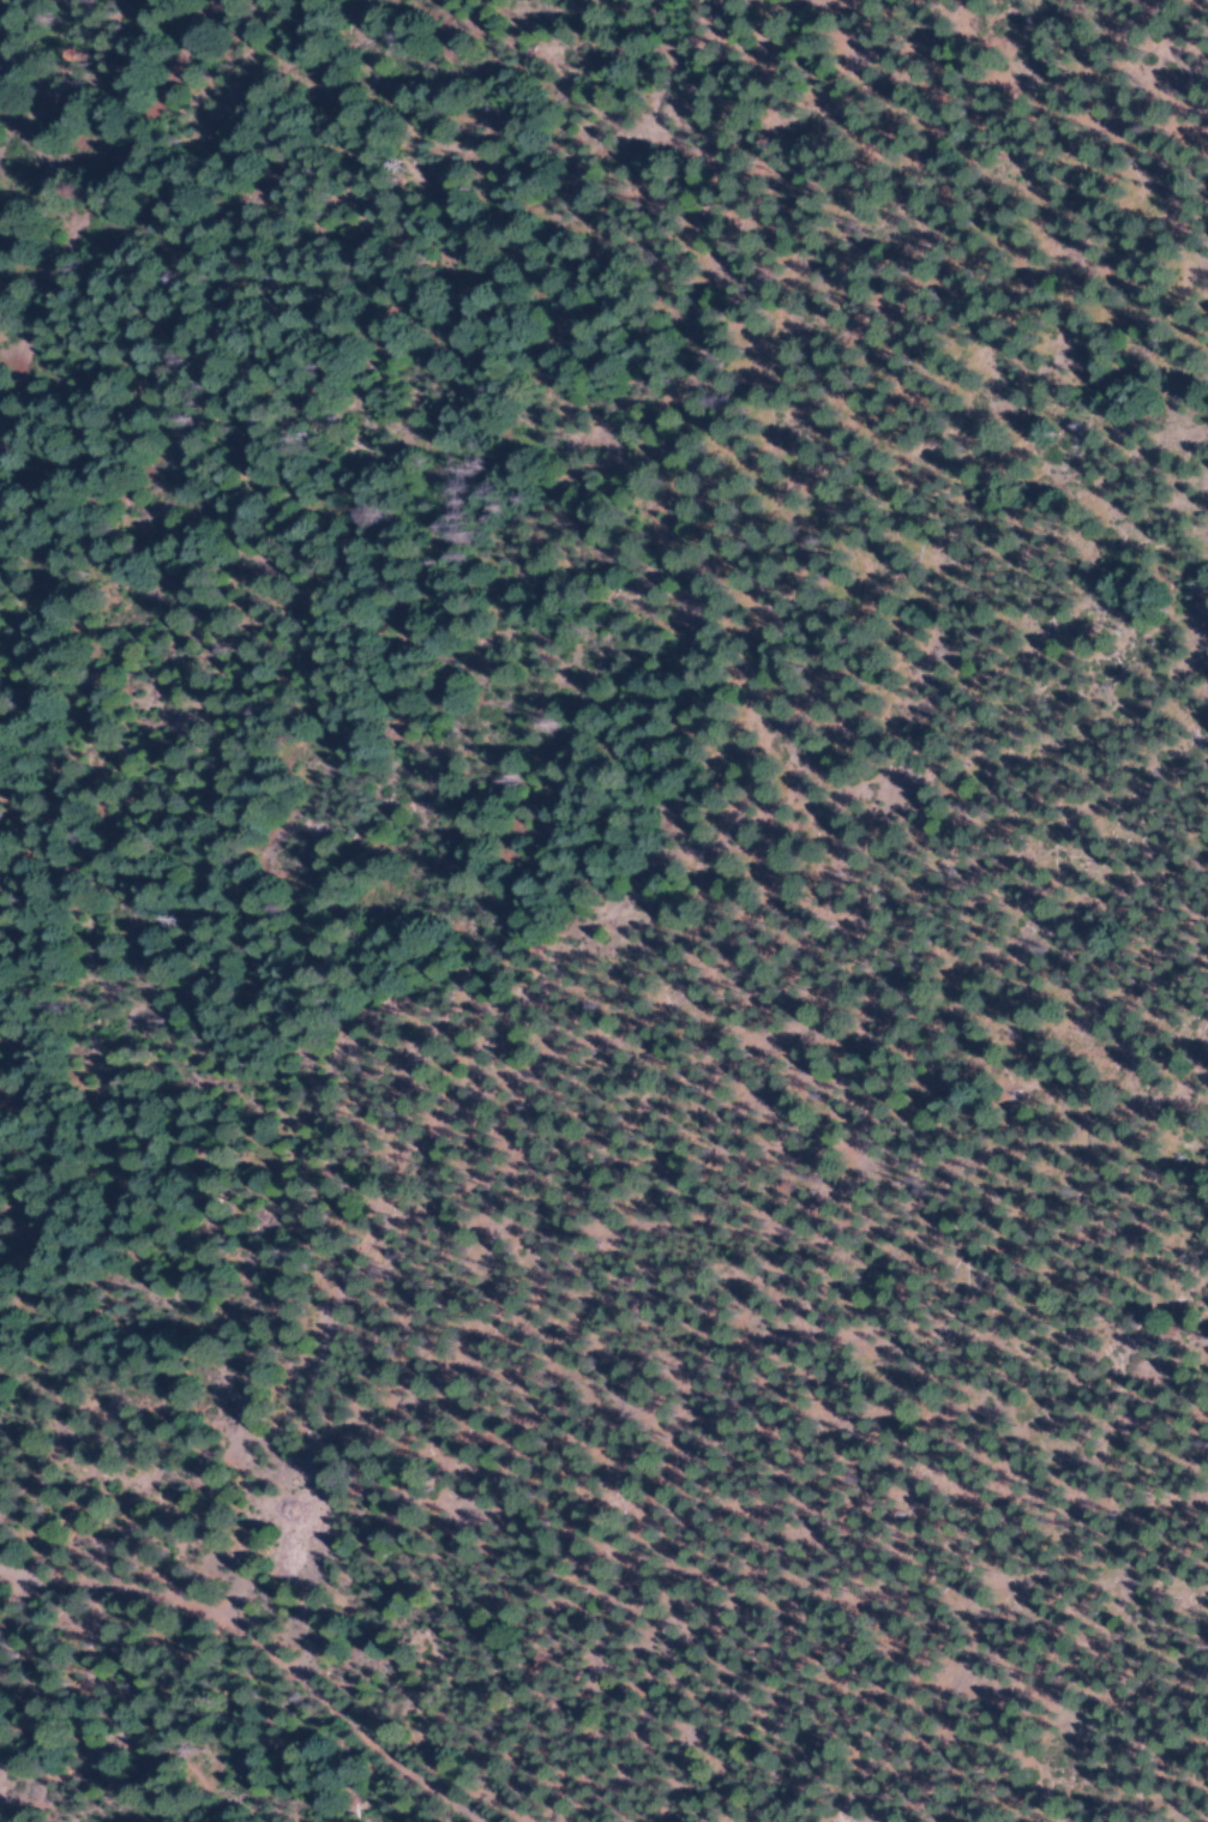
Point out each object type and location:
road: (19, 320)
road: (265, 1653)

